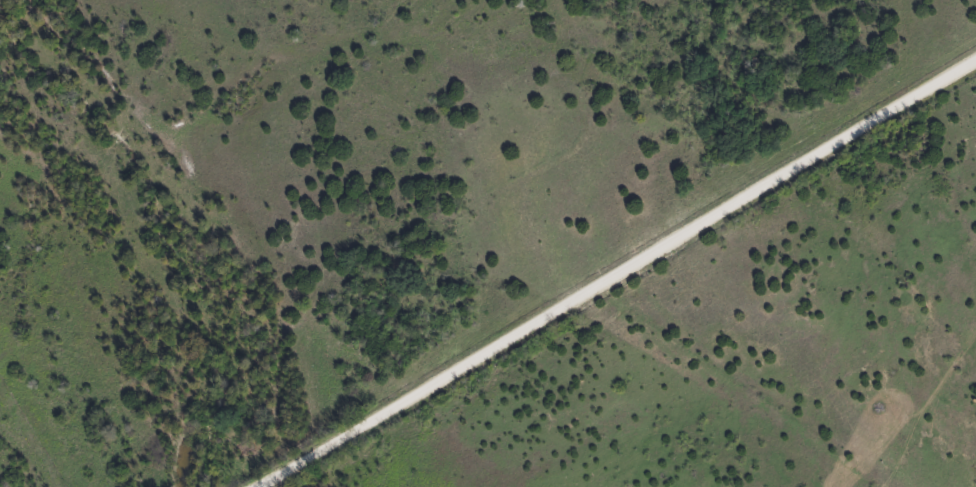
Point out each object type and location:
road: (622, 276)

